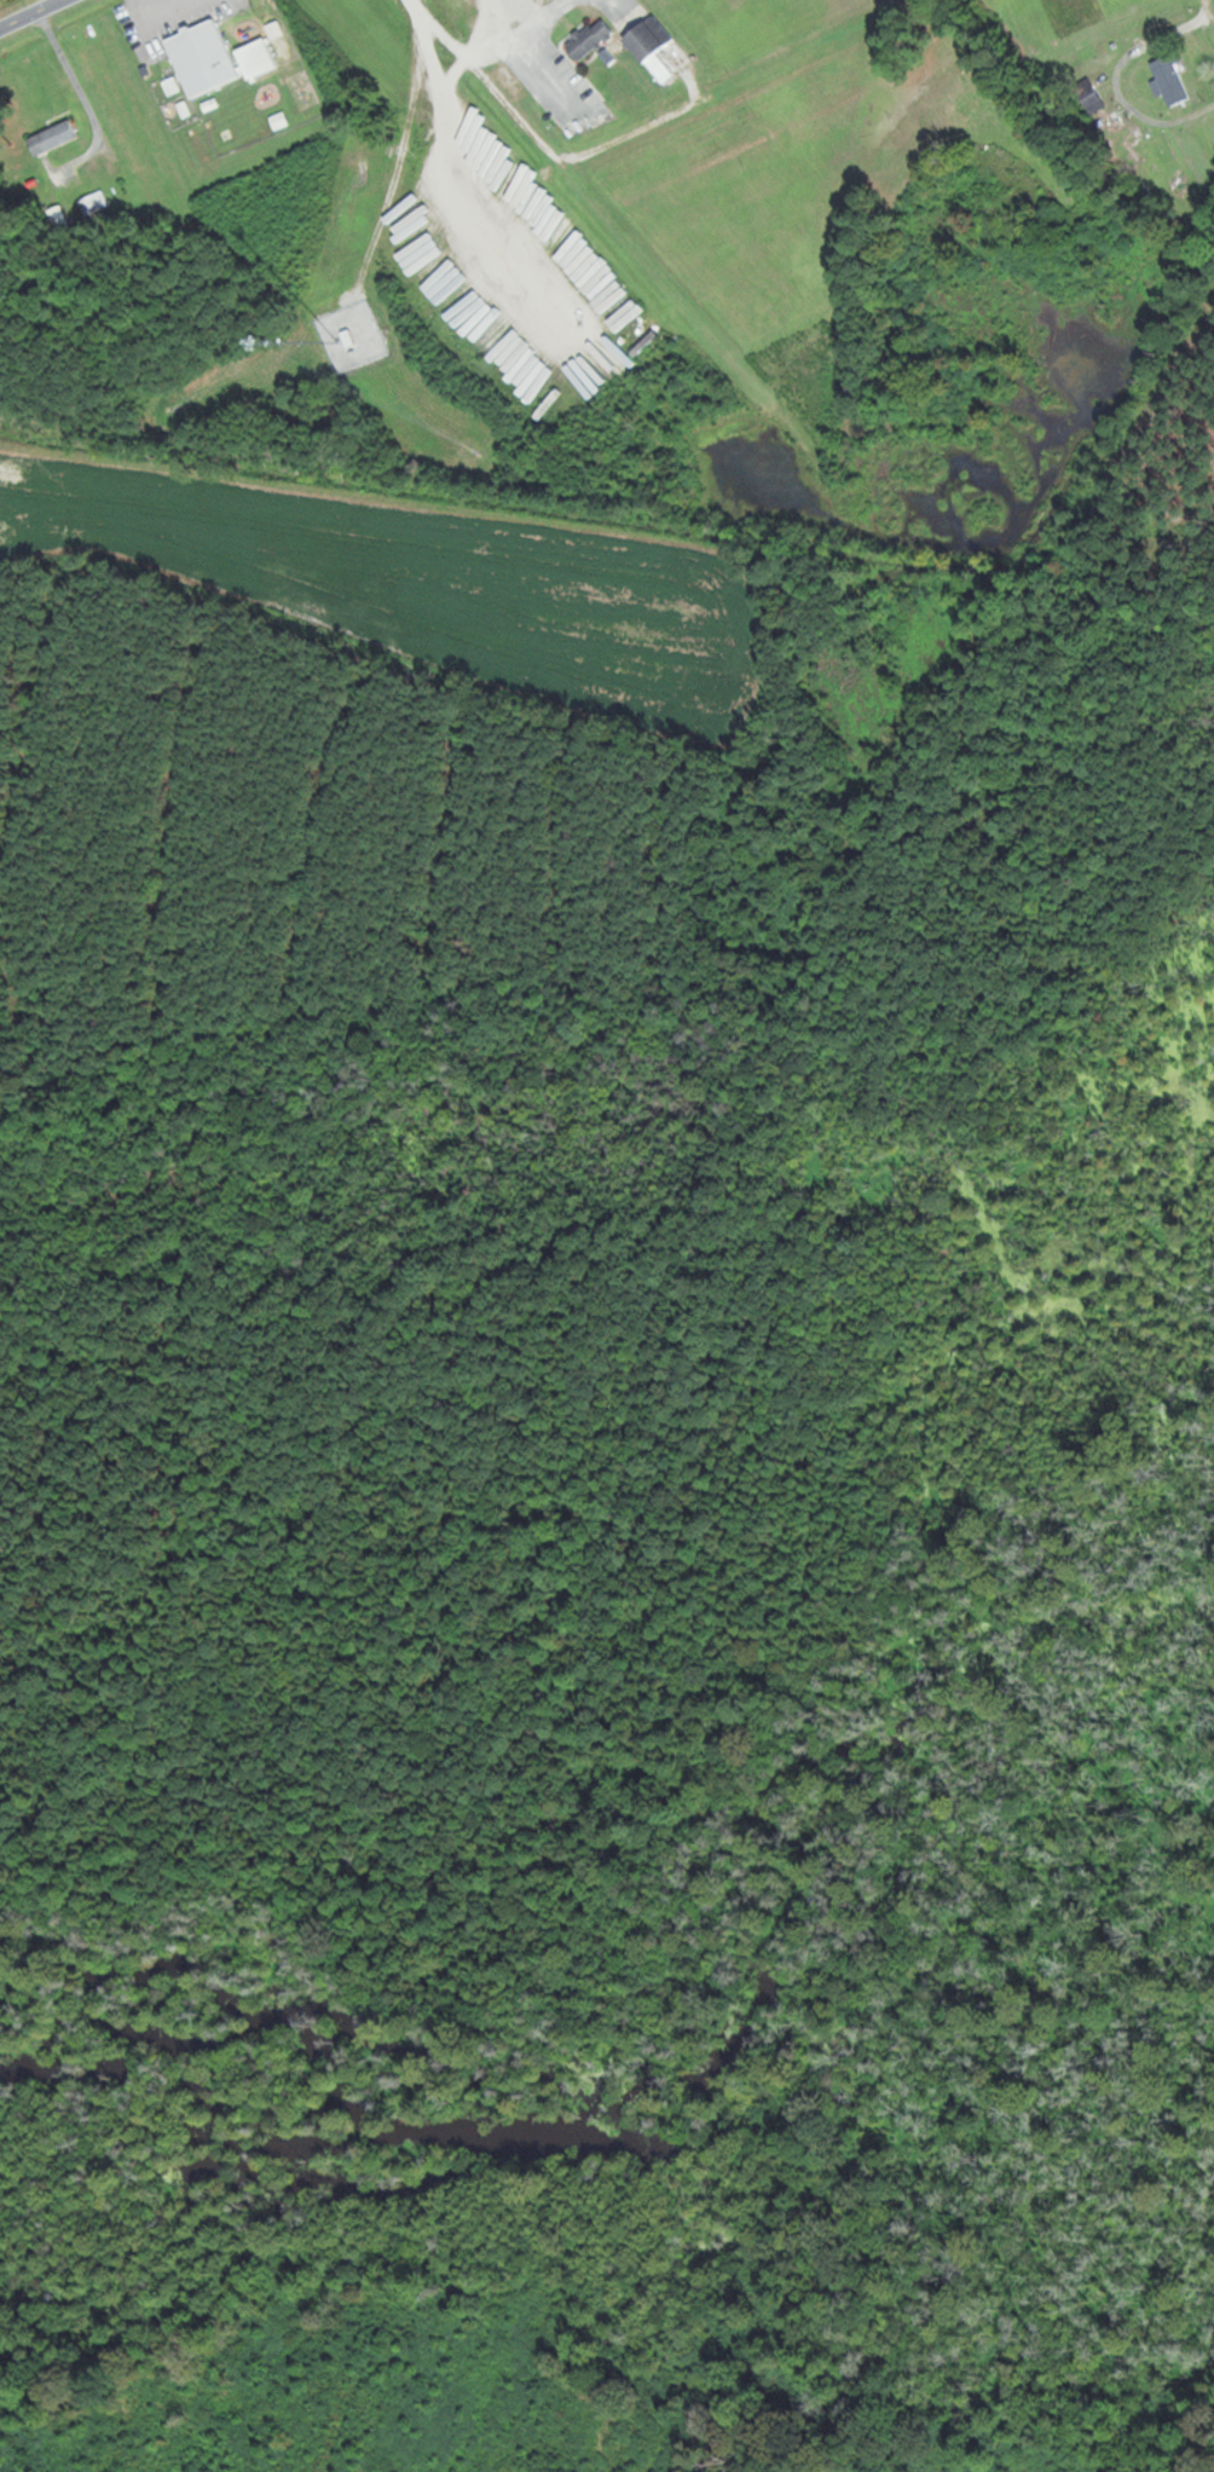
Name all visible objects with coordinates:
road: (1212, 2)
road: (29, 13)
building: (588, 39)
building: (651, 46)
building: (213, 58)
building: (1169, 80)
building: (1089, 98)
road: (86, 104)
building: (51, 138)
building: (97, 202)
building: (57, 216)

